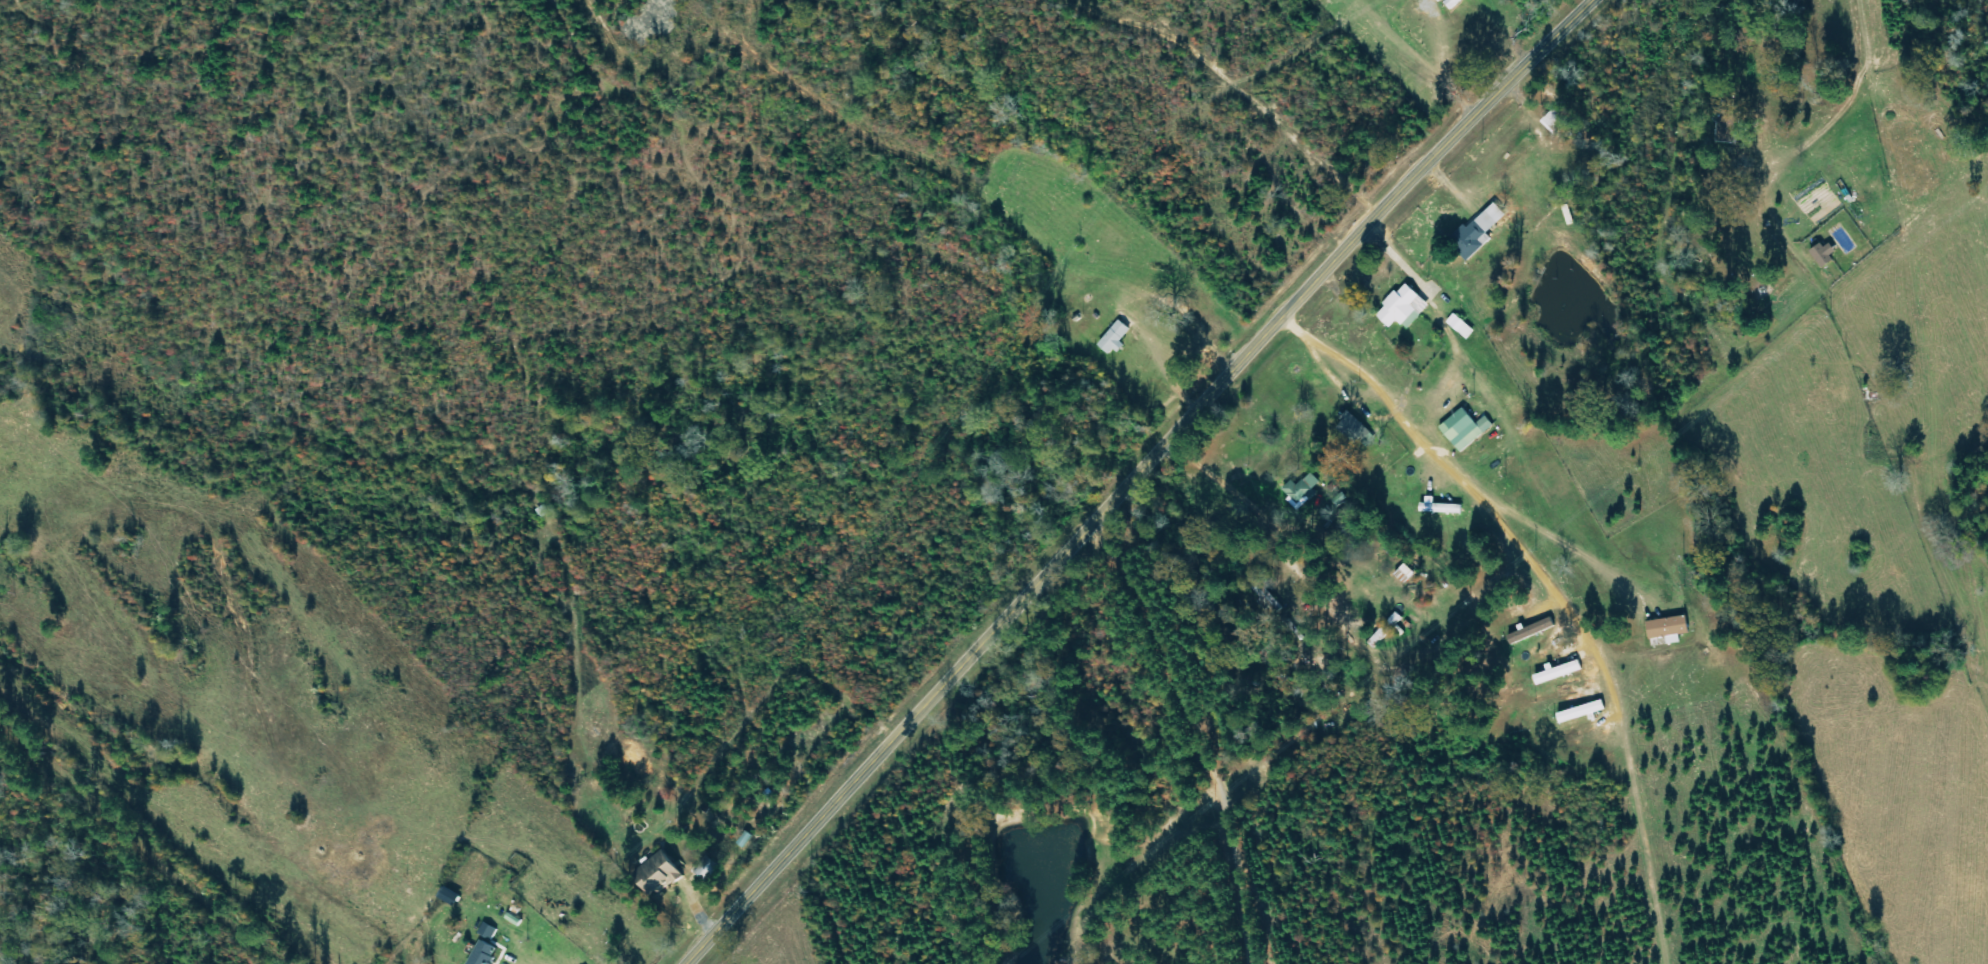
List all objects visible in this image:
building: (1451, 3)
building: (1475, 233)
building: (1822, 255)
road: (1851, 257)
building: (1401, 308)
road: (933, 313)
building: (1113, 338)
building: (1353, 429)
building: (1463, 429)
road: (1136, 476)
building: (1300, 491)
road: (1473, 493)
building: (1439, 507)
road: (1594, 556)
building: (1666, 629)
building: (1529, 631)
building: (1556, 673)
road: (1216, 713)
road: (142, 826)
building: (655, 876)
building: (491, 932)
building: (488, 953)

